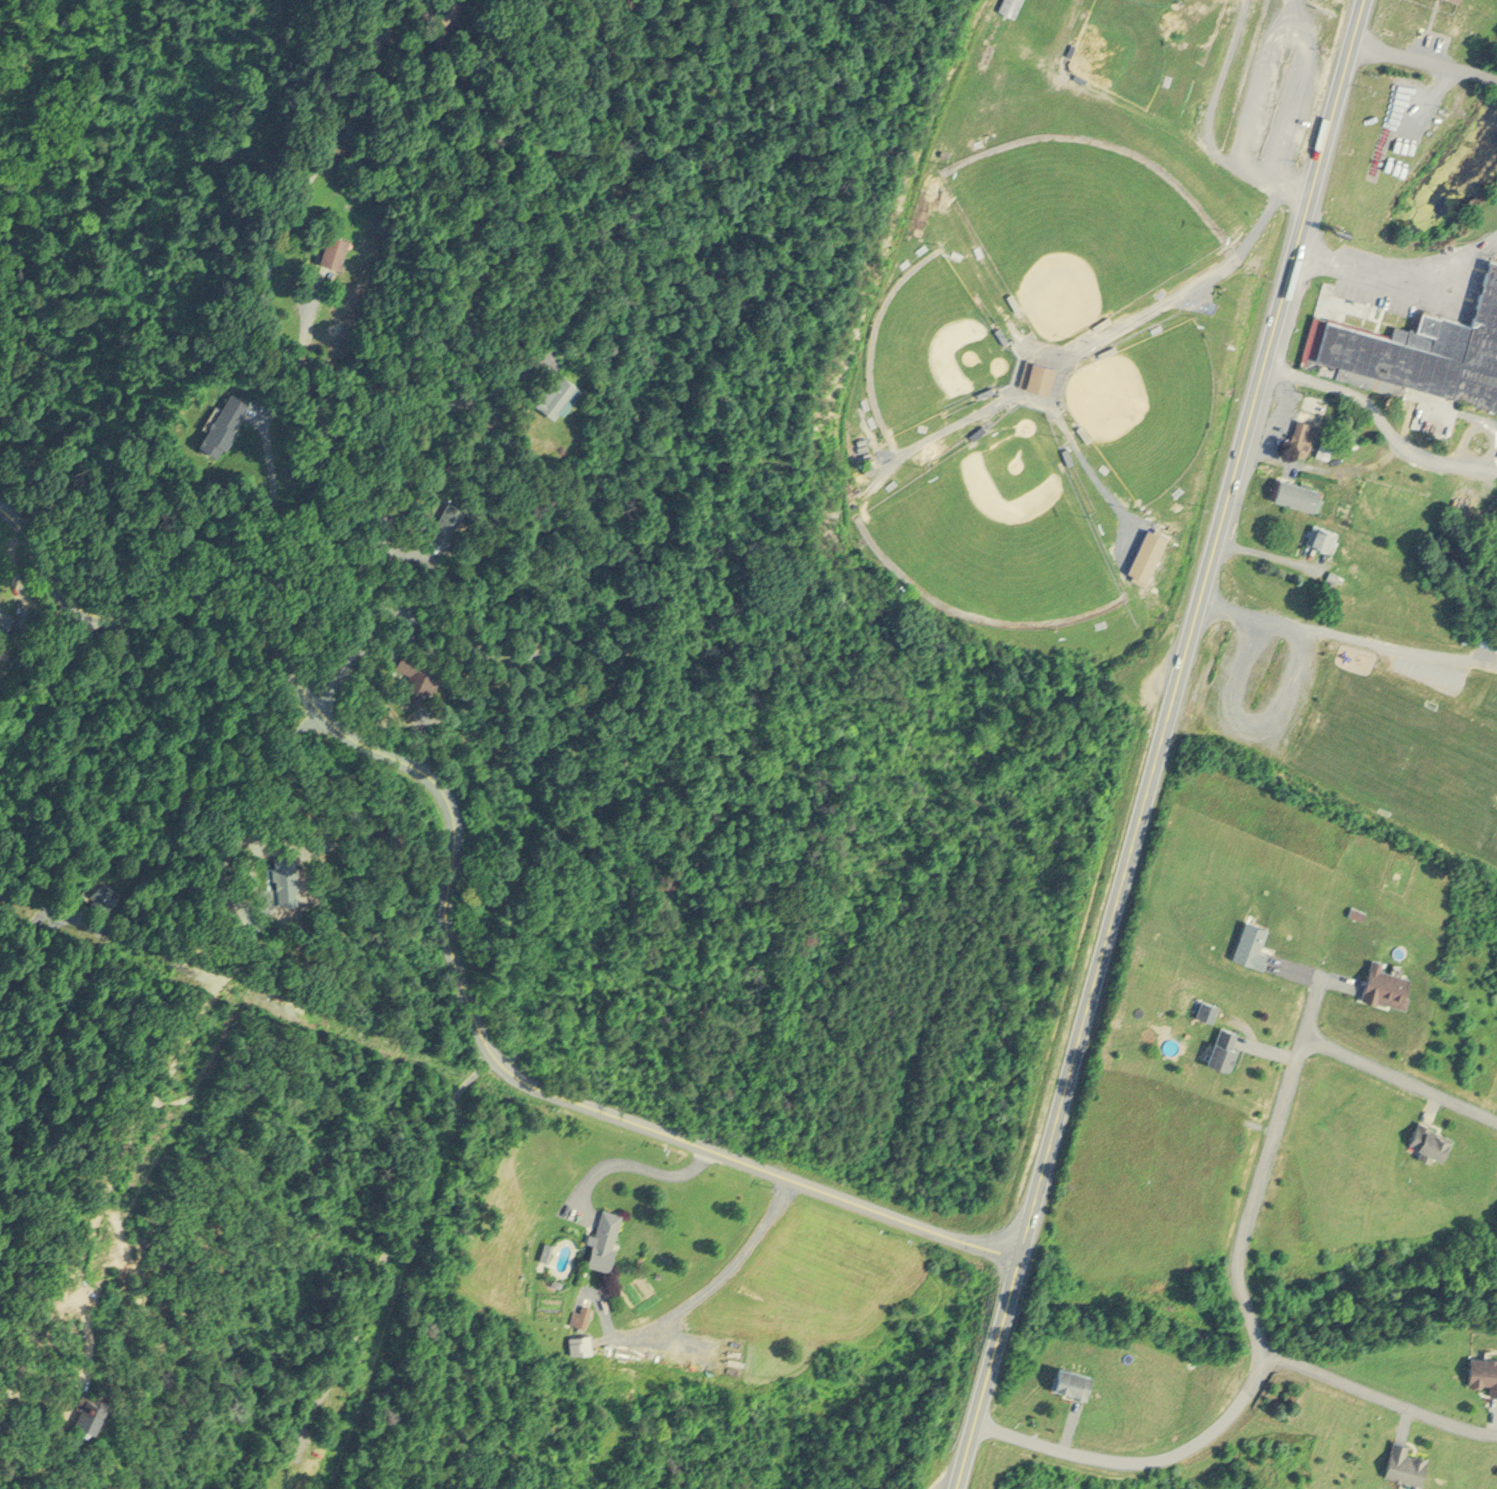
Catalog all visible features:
building: (1010, 5)
road: (1297, 21)
park: (1120, 47)
road: (1425, 59)
parking lot: (1258, 92)
parking lot: (1292, 104)
road: (1211, 112)
park: (1075, 222)
building: (336, 249)
parking lot: (1376, 252)
road: (1402, 267)
road: (1200, 277)
parking lot: (1378, 293)
road: (248, 304)
park: (1059, 315)
road: (1013, 335)
park: (929, 345)
building: (1426, 348)
building: (1038, 372)
road: (1336, 386)
building: (560, 393)
road: (1013, 393)
park: (1146, 406)
road: (1478, 417)
building: (1308, 424)
road: (944, 431)
building: (1326, 446)
road: (1434, 453)
road: (1319, 463)
road: (1489, 464)
road: (1087, 466)
building: (1299, 492)
road: (447, 509)
building: (448, 521)
park: (996, 525)
building: (1324, 535)
road: (1266, 551)
road: (31, 564)
building: (3, 615)
road: (1342, 637)
building: (417, 674)
road: (46, 686)
road: (1159, 743)
road: (30, 858)
building: (1358, 912)
road: (1330, 977)
road: (458, 981)
building: (1388, 984)
building: (1208, 1008)
building: (1227, 1045)
road: (1276, 1048)
road: (180, 1049)
road: (1399, 1074)
road: (1435, 1100)
building: (1433, 1136)
road: (634, 1164)
road: (1264, 1166)
building: (606, 1237)
building: (548, 1244)
road: (383, 1248)
road: (719, 1277)
building: (581, 1313)
building: (1485, 1368)
building: (1076, 1376)
road: (1378, 1396)
building: (93, 1408)
road: (1495, 1414)
road: (1407, 1416)
road: (1068, 1424)
road: (1145, 1458)
building: (1407, 1461)
building: (268, 1487)

